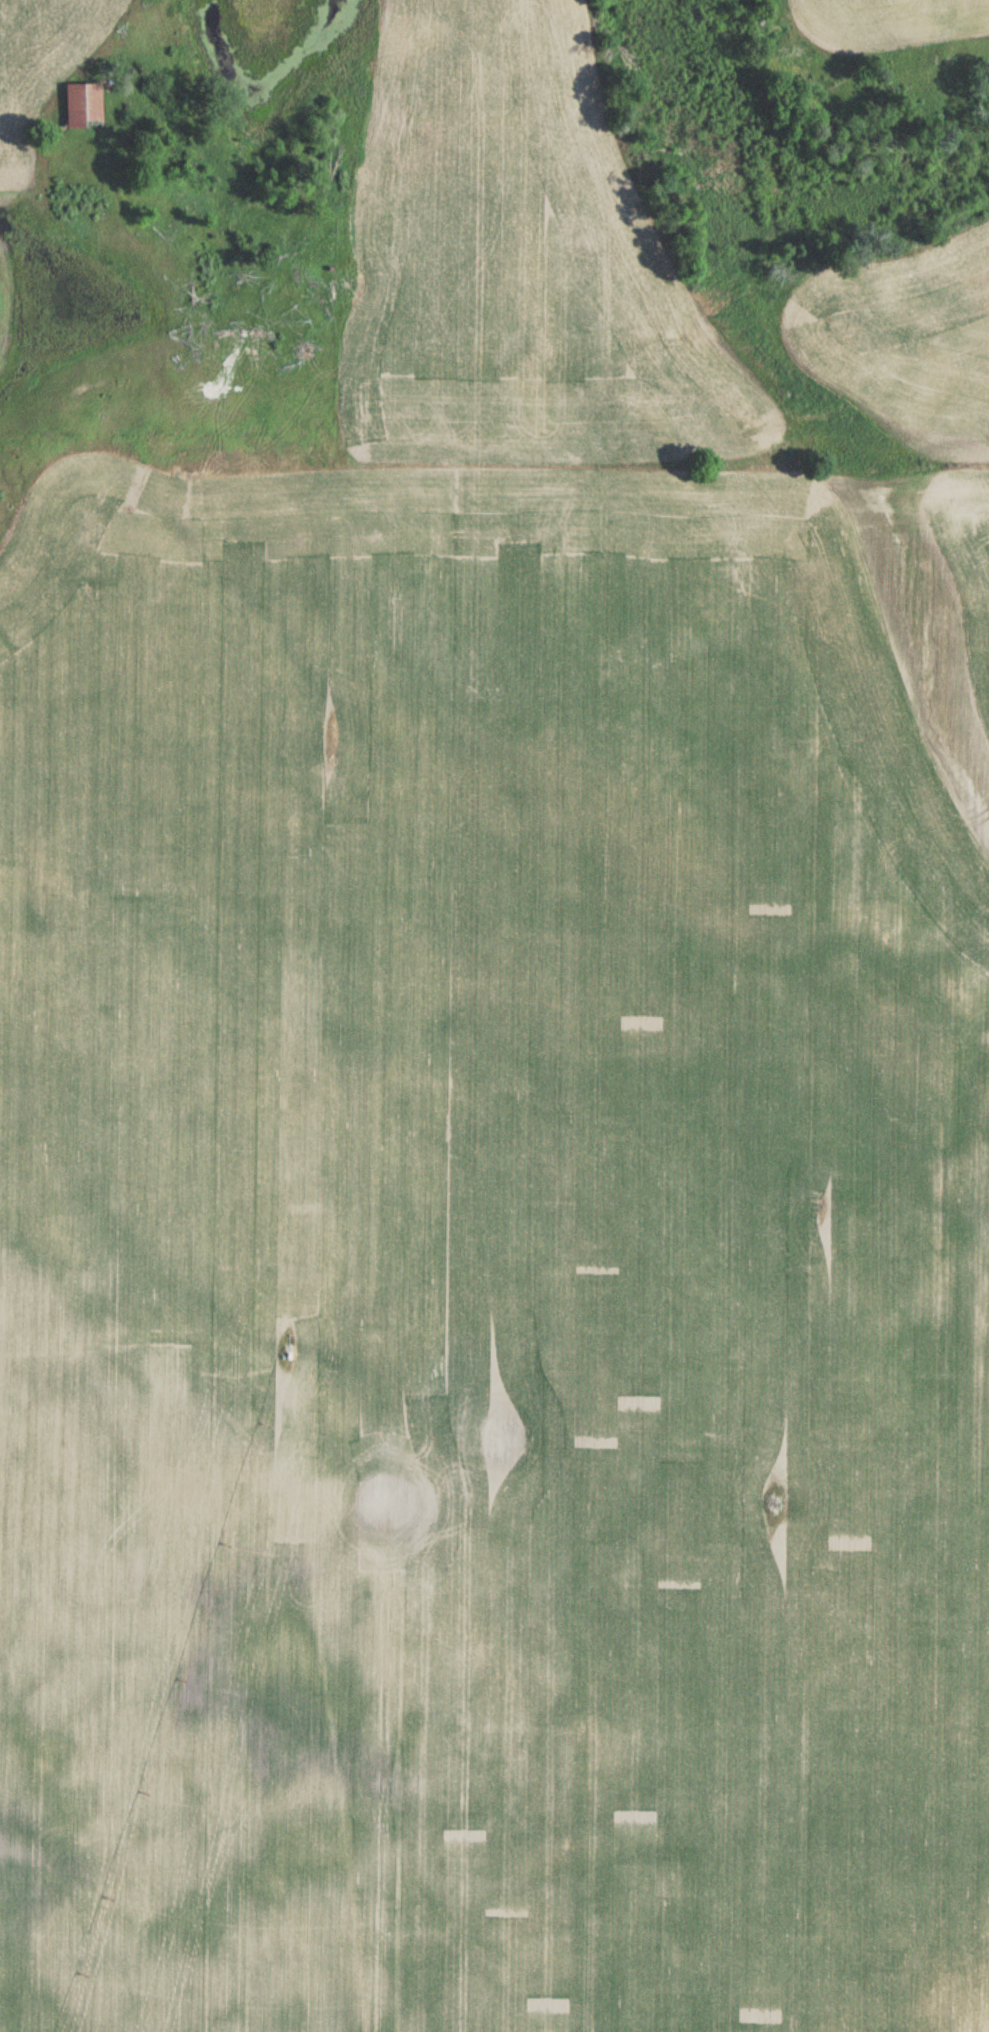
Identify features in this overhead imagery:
building: (84, 106)
road: (5, 127)

